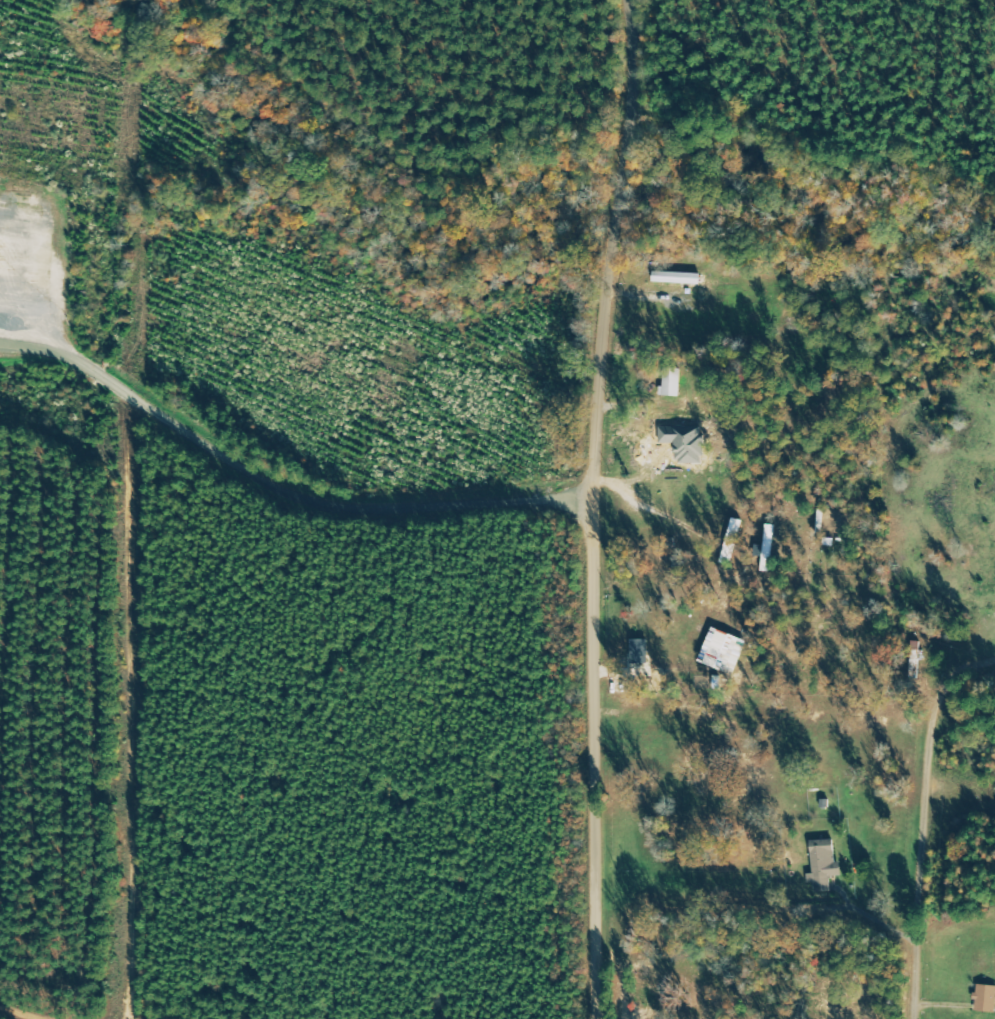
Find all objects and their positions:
building: (678, 277)
building: (673, 382)
road: (603, 504)
building: (730, 539)
building: (637, 651)
road: (927, 820)
building: (821, 864)
road: (880, 920)
road: (208, 995)
building: (984, 998)

